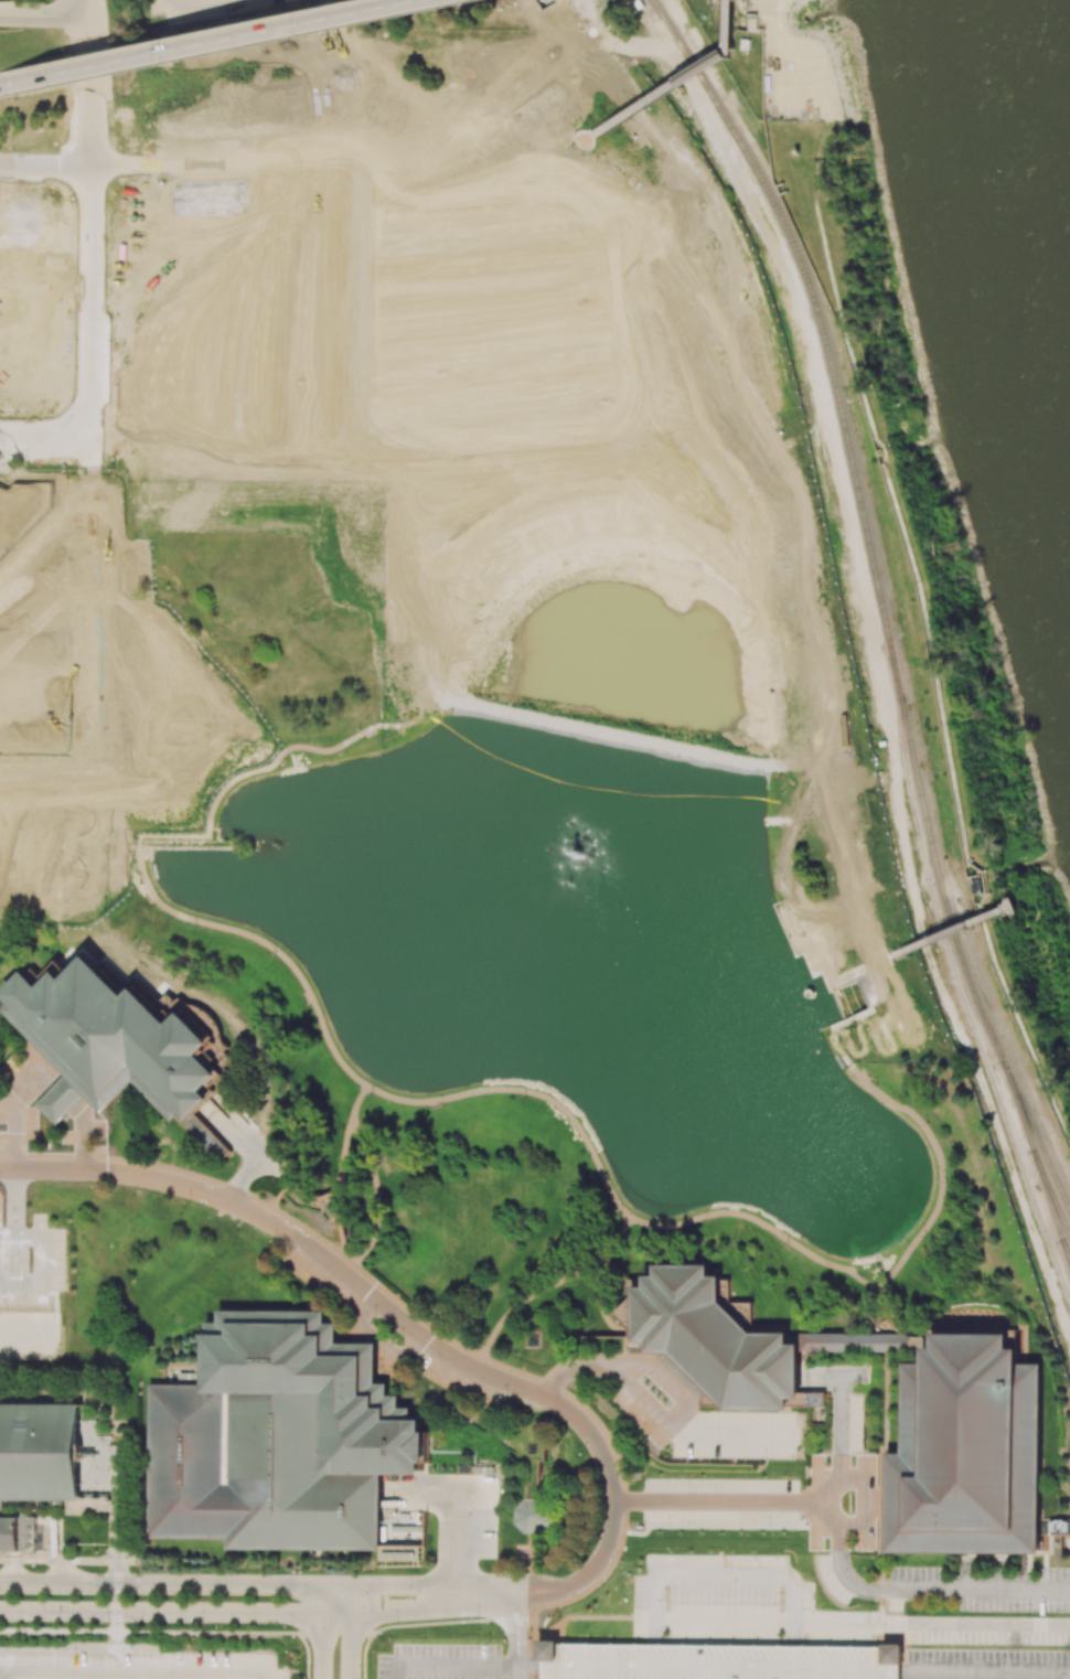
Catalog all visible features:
road: (176, 1)
street lamp: (471, 3)
parking lot: (153, 8)
parking lot: (218, 10)
railway: (657, 11)
road: (42, 14)
building: (755, 20)
road: (731, 24)
road: (574, 25)
street lamp: (309, 35)
road: (215, 42)
road: (87, 43)
railway: (678, 44)
road: (640, 45)
road: (730, 50)
park: (781, 58)
street lamp: (167, 64)
building: (705, 65)
road: (705, 65)
railway: (695, 71)
street lamp: (46, 93)
road: (636, 108)
building: (385, 118)
road: (93, 125)
road: (589, 131)
road: (579, 132)
road: (577, 138)
road: (587, 149)
road: (47, 163)
road: (95, 171)
building: (33, 239)
road: (95, 240)
park: (55, 297)
road: (95, 336)
railway: (826, 347)
road: (35, 411)
building: (7, 502)
building: (10, 541)
building: (78, 696)
railway: (910, 751)
road: (838, 827)
fountain: (577, 852)
road: (788, 896)
road: (875, 926)
road: (862, 932)
road: (952, 932)
road: (267, 942)
railway: (960, 960)
road: (880, 963)
railway: (954, 983)
road: (880, 991)
road: (864, 1018)
road: (839, 1024)
road: (888, 1025)
building: (114, 1040)
road: (841, 1050)
parking lot: (14, 1088)
road: (528, 1090)
road: (64, 1097)
road: (357, 1099)
building: (61, 1100)
road: (17, 1105)
road: (24, 1129)
road: (236, 1130)
parking lot: (94, 1132)
railway: (1036, 1132)
road: (83, 1138)
road: (341, 1151)
road: (11, 1156)
railway: (1037, 1158)
road: (272, 1167)
road: (942, 1167)
road: (191, 1175)
road: (243, 1177)
road: (283, 1188)
railway: (1051, 1188)
road: (375, 1193)
road: (4, 1201)
road: (15, 1204)
road: (321, 1211)
road: (760, 1221)
road: (339, 1233)
road: (8, 1238)
road: (610, 1243)
railway: (1069, 1256)
road: (345, 1260)
parking lot: (32, 1262)
road: (44, 1268)
parking lot: (320, 1271)
road: (524, 1301)
road: (599, 1302)
road: (413, 1314)
road: (910, 1316)
road: (25, 1333)
parking lot: (28, 1333)
road: (425, 1339)
building: (533, 1339)
building: (717, 1341)
building: (873, 1341)
road: (378, 1343)
road: (589, 1357)
road: (656, 1367)
road: (510, 1369)
parking lot: (462, 1375)
road: (822, 1375)
road: (852, 1375)
road: (563, 1376)
building: (320, 1384)
road: (640, 1398)
building: (452, 1407)
parking lot: (659, 1415)
road: (839, 1426)
road: (887, 1427)
road: (604, 1436)
building: (533, 1448)
building: (41, 1450)
building: (973, 1450)
building: (95, 1463)
building: (463, 1468)
building: (254, 1472)
road: (825, 1488)
road: (431, 1493)
parking lot: (843, 1502)
road: (868, 1502)
road: (711, 1504)
building: (534, 1516)
road: (645, 1519)
road: (824, 1519)
building: (1059, 1528)
building: (12, 1532)
road: (454, 1544)
road: (880, 1563)
street lamp: (247, 1571)
road: (533, 1571)
road: (998, 1571)
street lamp: (345, 1573)
street lamp: (415, 1573)
road: (160, 1583)
road: (336, 1584)
road: (404, 1585)
road: (966, 1586)
road: (721, 1587)
parking lot: (723, 1589)
road: (877, 1589)
road: (1034, 1590)
parking lot: (982, 1591)
road: (175, 1612)
road: (405, 1613)
road: (509, 1614)
road: (598, 1616)
street lamp: (478, 1617)
road: (835, 1621)
street lamp: (396, 1622)
road: (405, 1625)
road: (533, 1625)
road: (989, 1625)
street lamp: (290, 1626)
road: (649, 1628)
road: (792, 1628)
road: (515, 1630)
road: (321, 1632)
road: (351, 1632)
road: (543, 1635)
road: (889, 1635)
road: (553, 1636)
road: (898, 1636)
parking lot: (986, 1647)
road: (533, 1651)
parking lot: (440, 1661)
building: (720, 1661)
parking lot: (720, 1661)
parking lot: (140, 1666)
road: (450, 1666)
road: (714, 1666)
road: (531, 1667)
road: (886, 1669)
road: (516, 1672)
road: (133, 1675)
road: (986, 1675)
street lamp: (310, 1676)
street lamp: (361, 1676)

